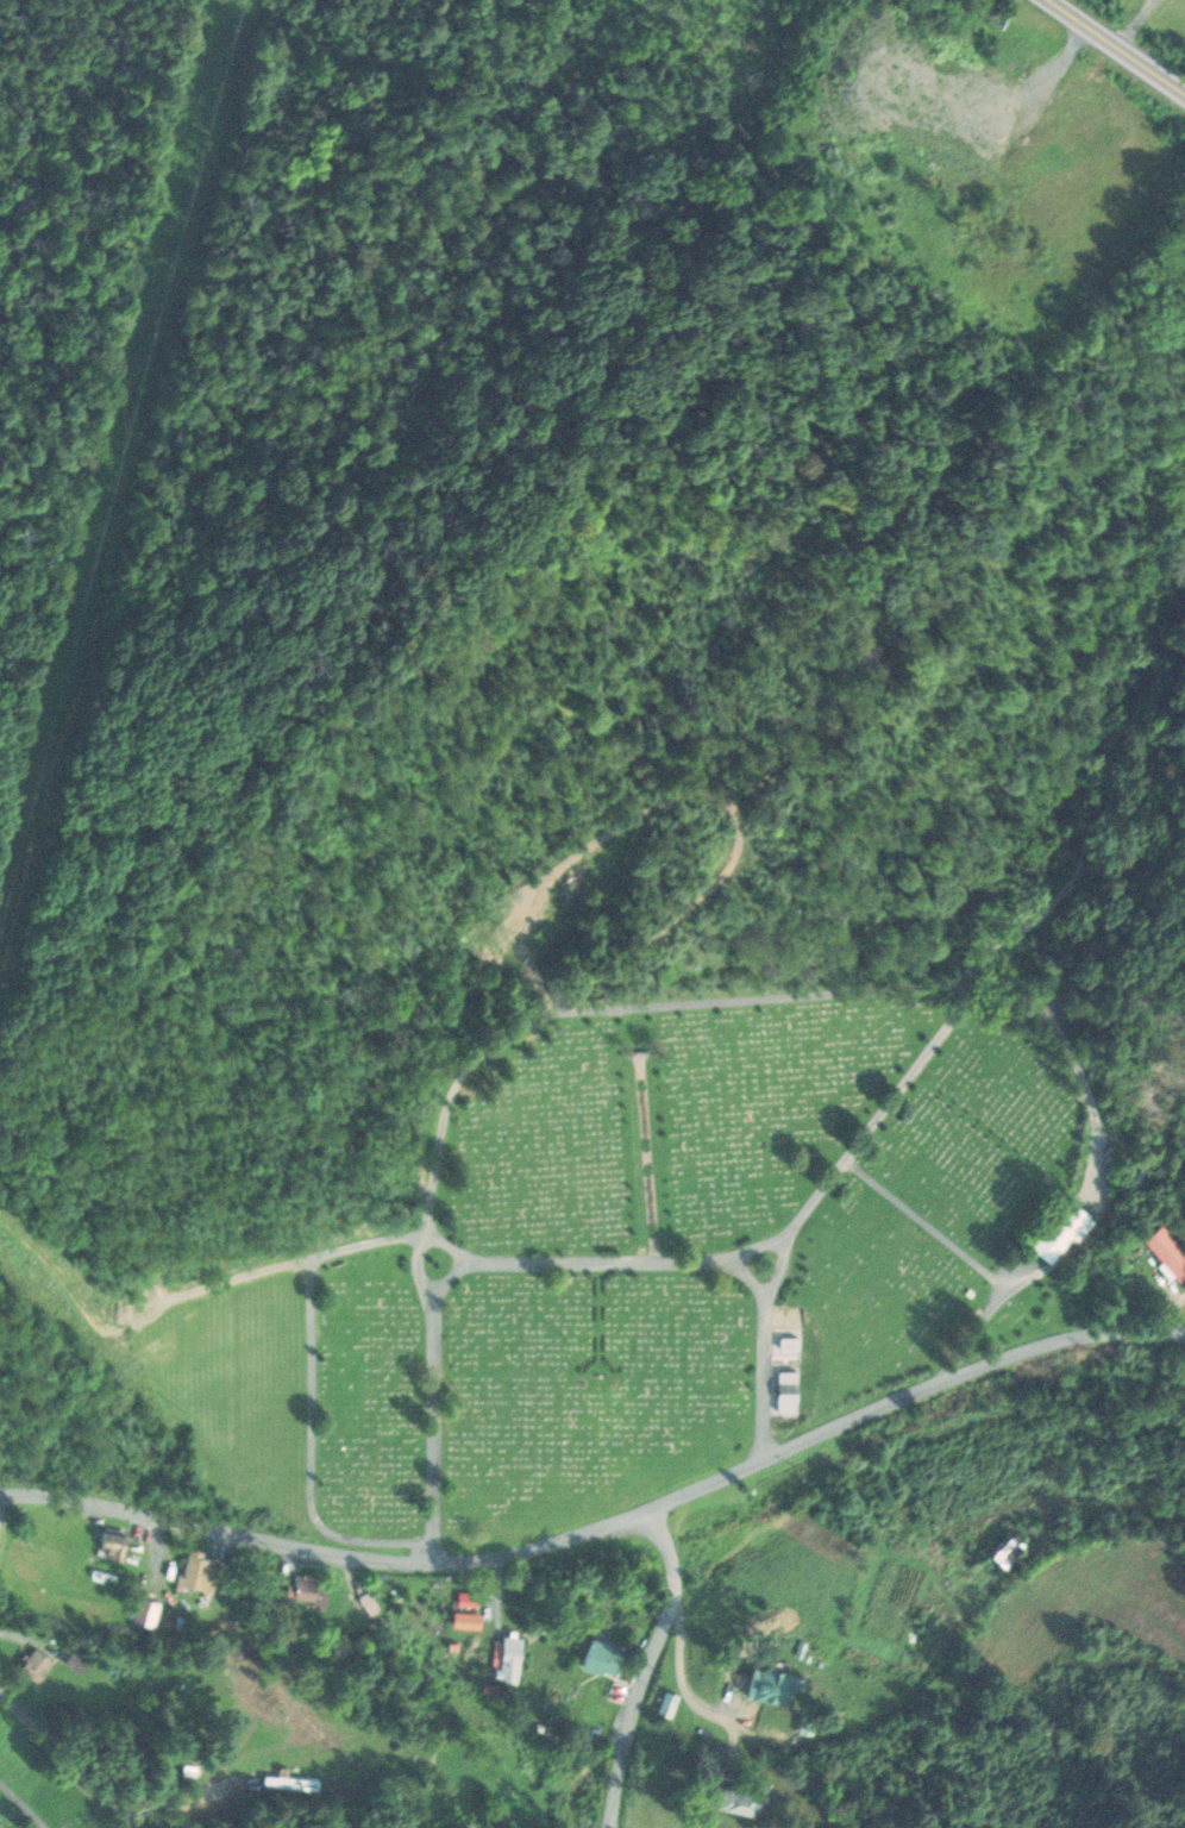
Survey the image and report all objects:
road: (1139, 25)
road: (1116, 48)
road: (1180, 505)
road: (735, 821)
road: (721, 1002)
road: (947, 1026)
road: (928, 1227)
park: (651, 1254)
road: (469, 1265)
road: (629, 1265)
road: (745, 1276)
road: (311, 1396)
road: (606, 1527)
road: (644, 1667)
road: (865, 1721)
road: (67, 1760)
park: (40, 1789)
road: (21, 1807)

